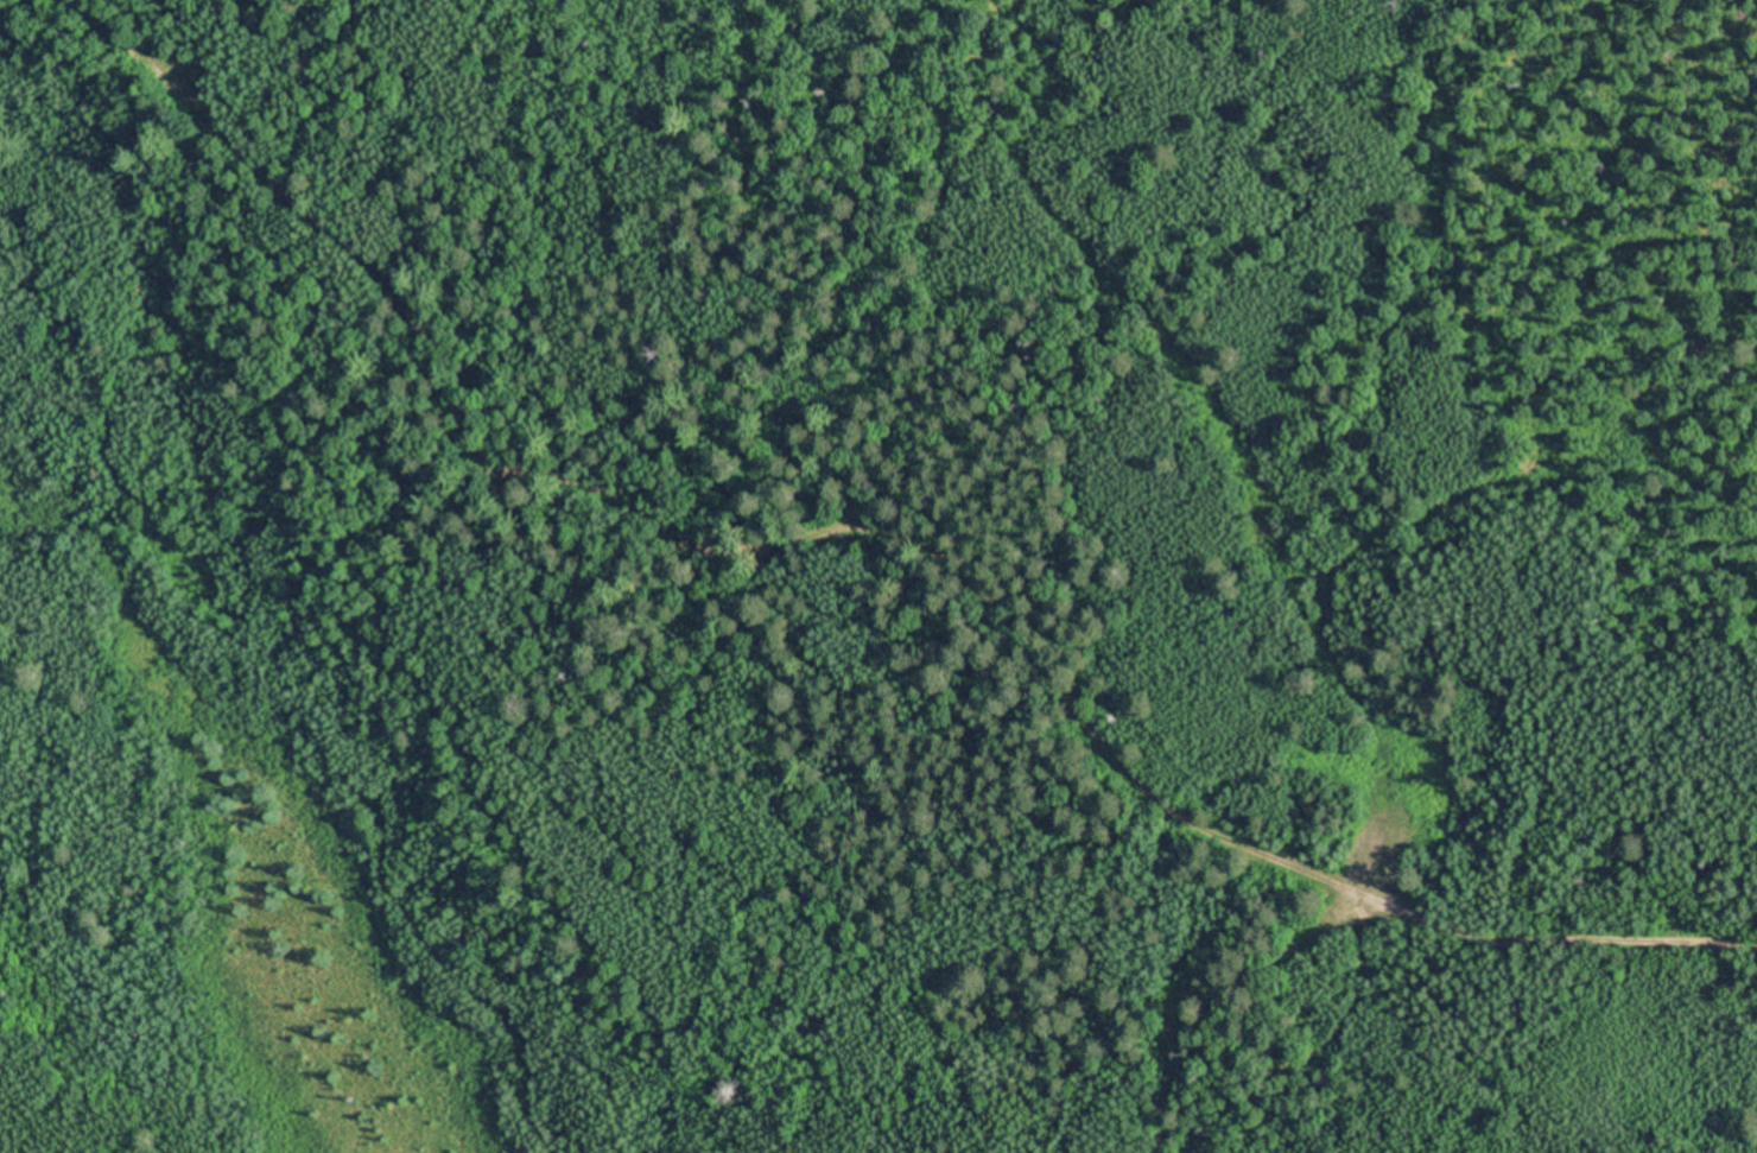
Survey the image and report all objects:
road: (1385, 900)

